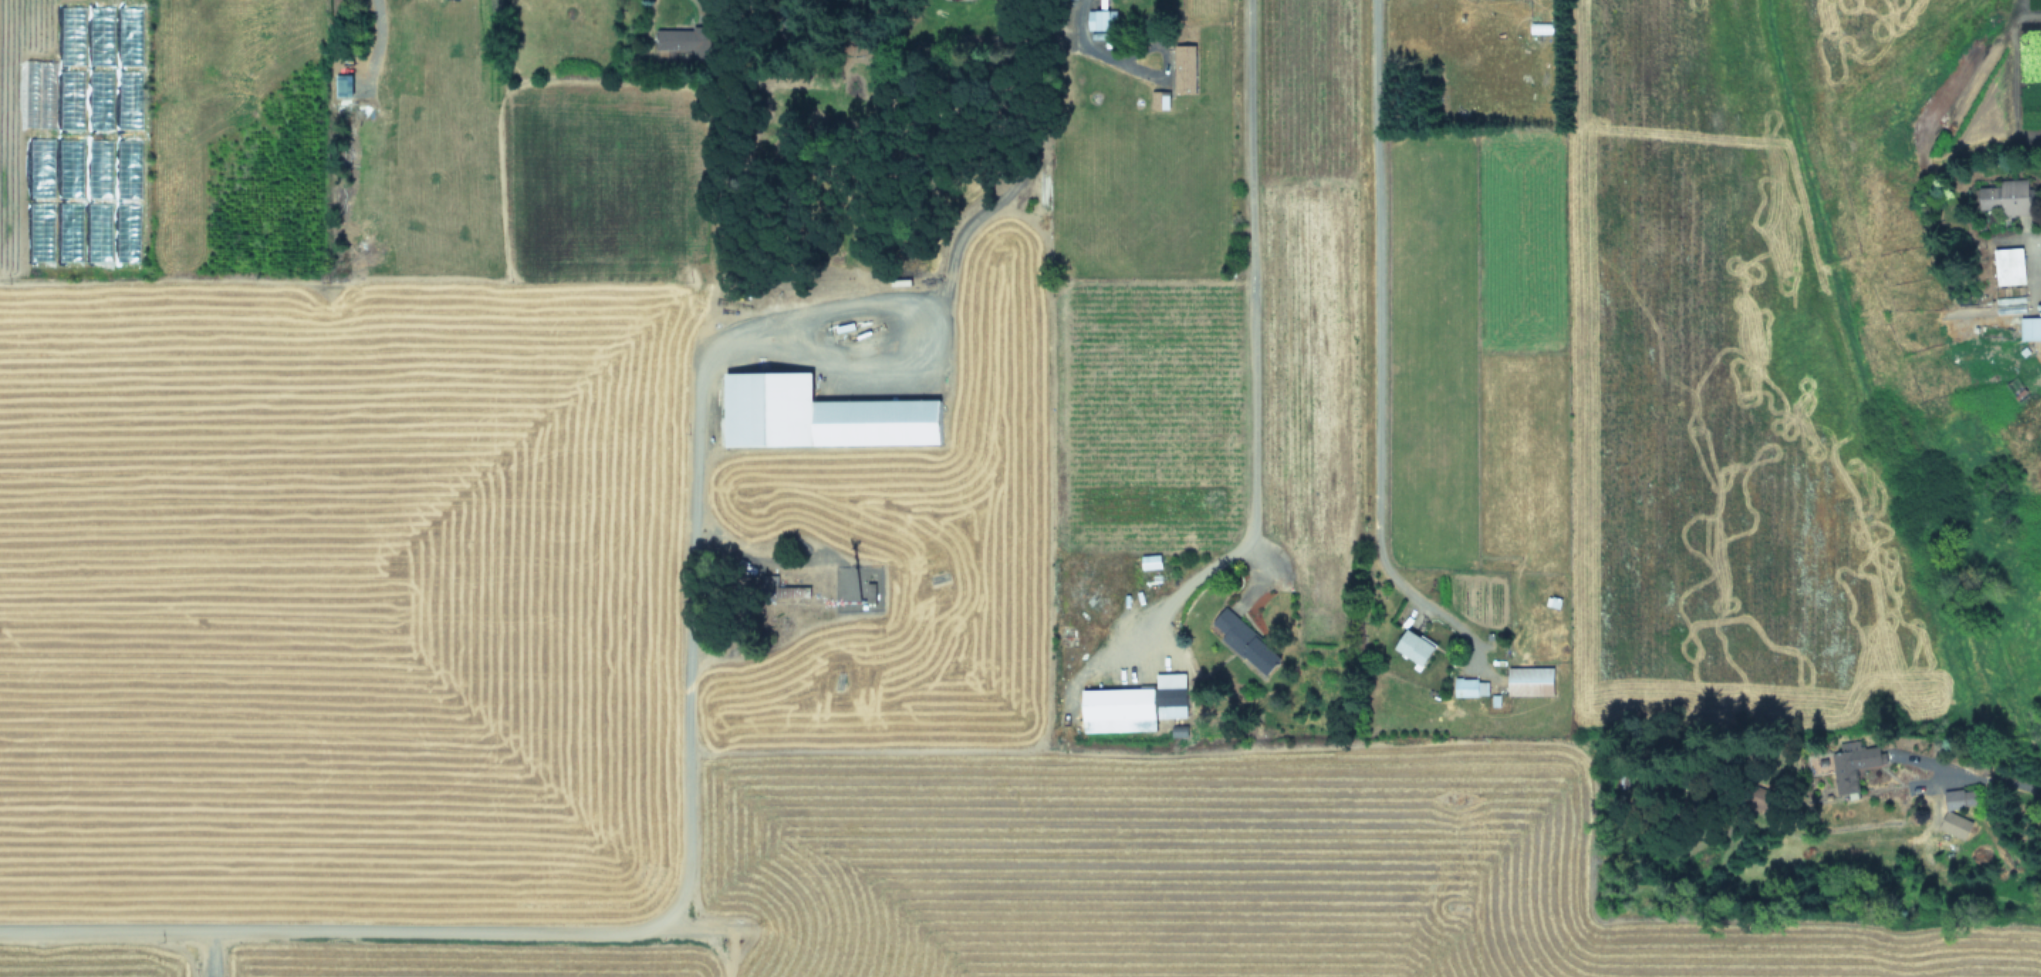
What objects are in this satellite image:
building: (1102, 21)
building: (676, 40)
road: (1081, 40)
road: (1163, 60)
building: (1186, 71)
building: (1160, 102)
building: (2008, 199)
road: (2039, 240)
building: (2010, 268)
road: (1381, 278)
building: (2011, 307)
building: (2031, 331)
road: (1253, 352)
building: (2018, 391)
road: (698, 412)
building: (822, 417)
crop: (1020, 488)
building: (783, 593)
building: (1247, 643)
building: (1416, 648)
building: (1531, 683)
building: (1472, 689)
building: (1139, 710)
building: (1856, 764)
road: (1968, 767)
building: (1961, 800)
building: (1956, 826)
road: (763, 927)
road: (332, 933)

